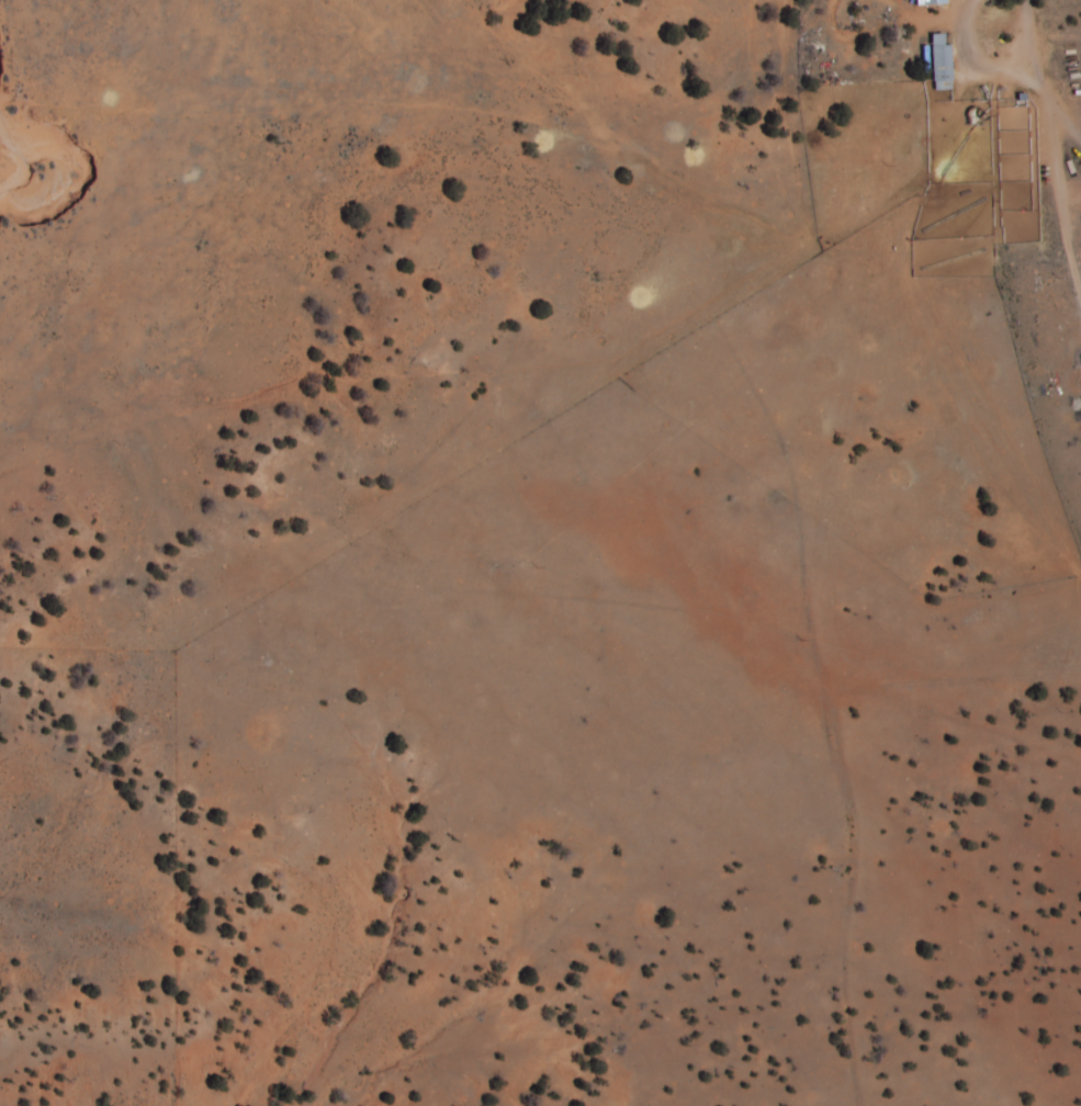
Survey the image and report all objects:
building: (926, 1)
road: (8, 54)
building: (941, 64)

